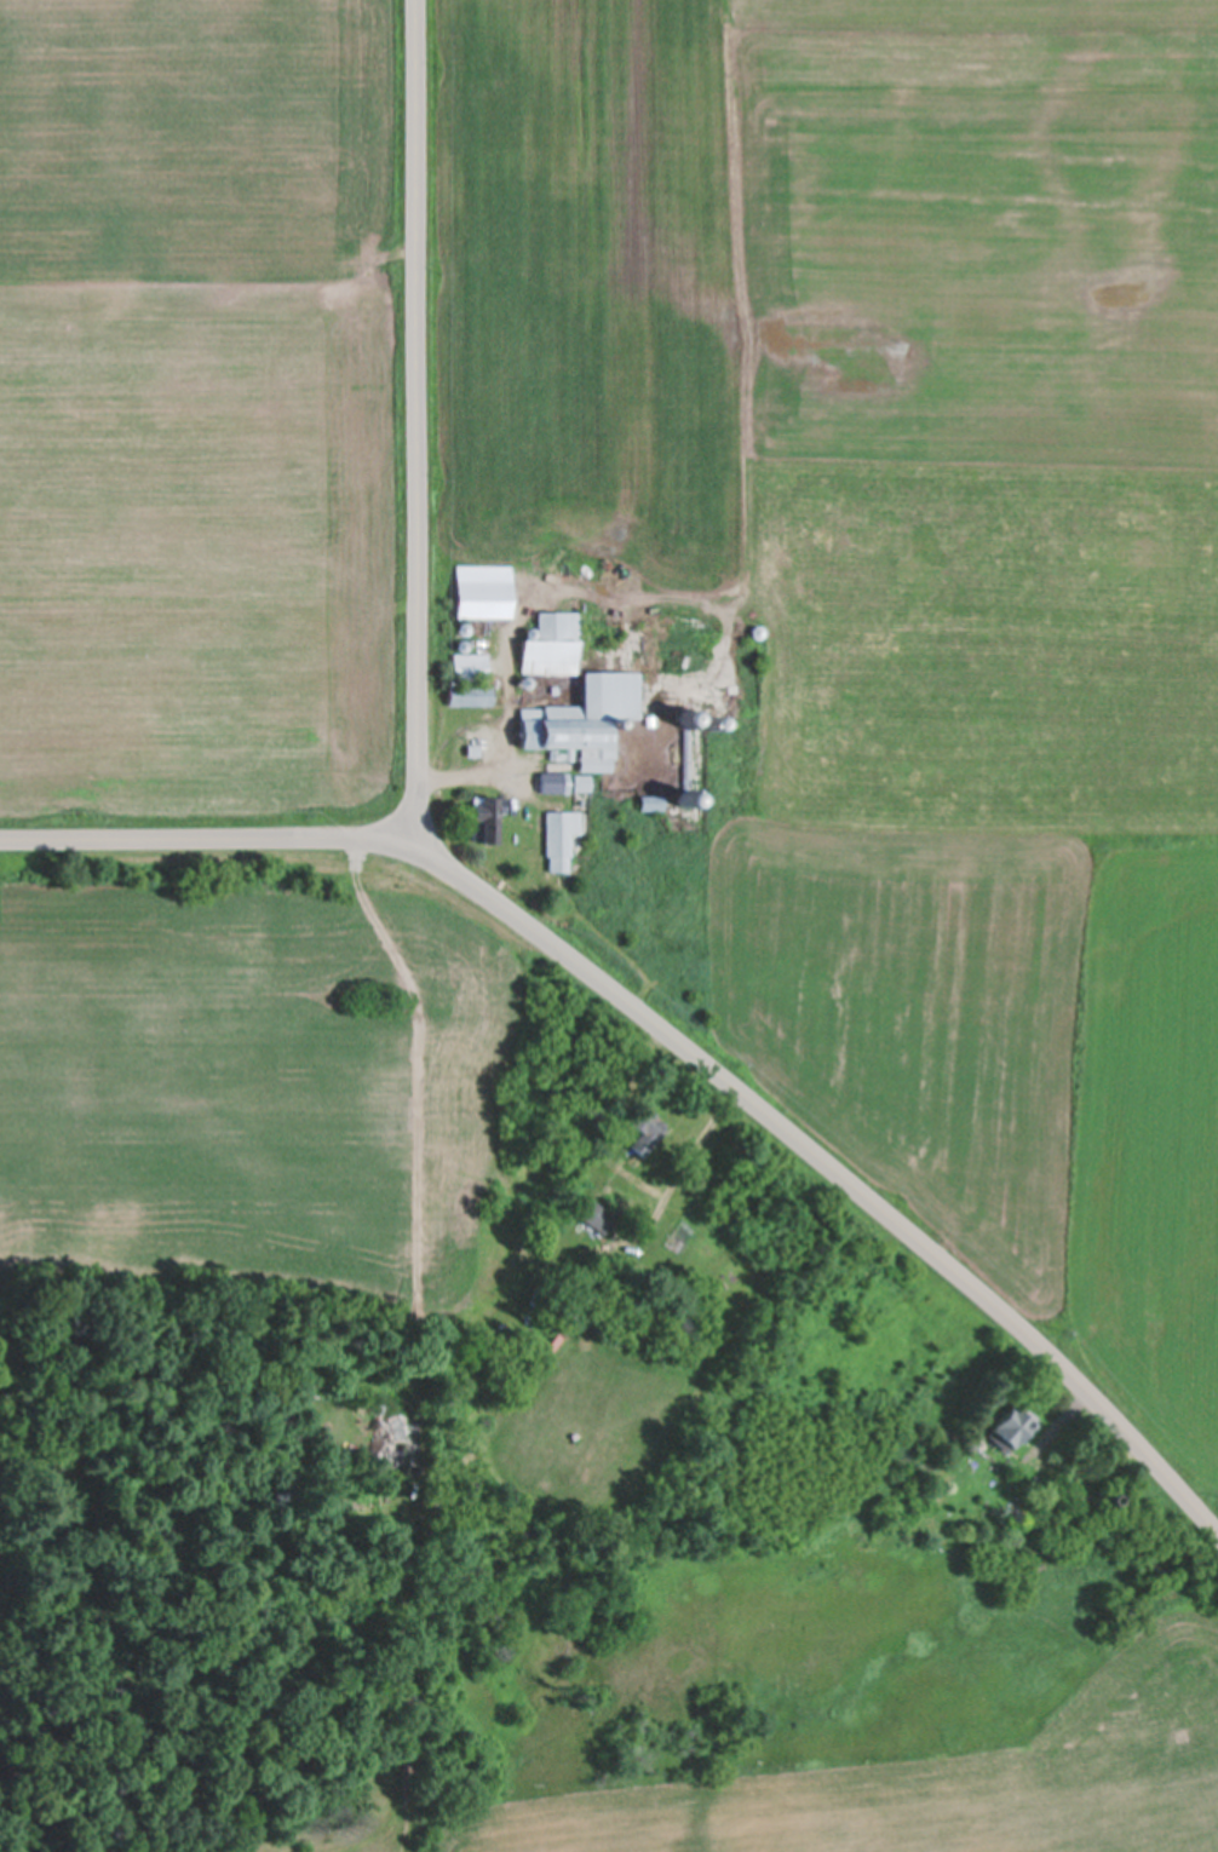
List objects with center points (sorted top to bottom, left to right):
road: (418, 430)
building: (481, 593)
building: (550, 646)
building: (467, 666)
building: (473, 696)
building: (584, 720)
building: (551, 783)
building: (580, 784)
building: (649, 804)
building: (482, 822)
building: (558, 840)
road: (671, 1052)
building: (639, 1134)
road: (678, 1177)
building: (596, 1219)
building: (1007, 1431)
building: (380, 1440)
building: (1098, 1531)

